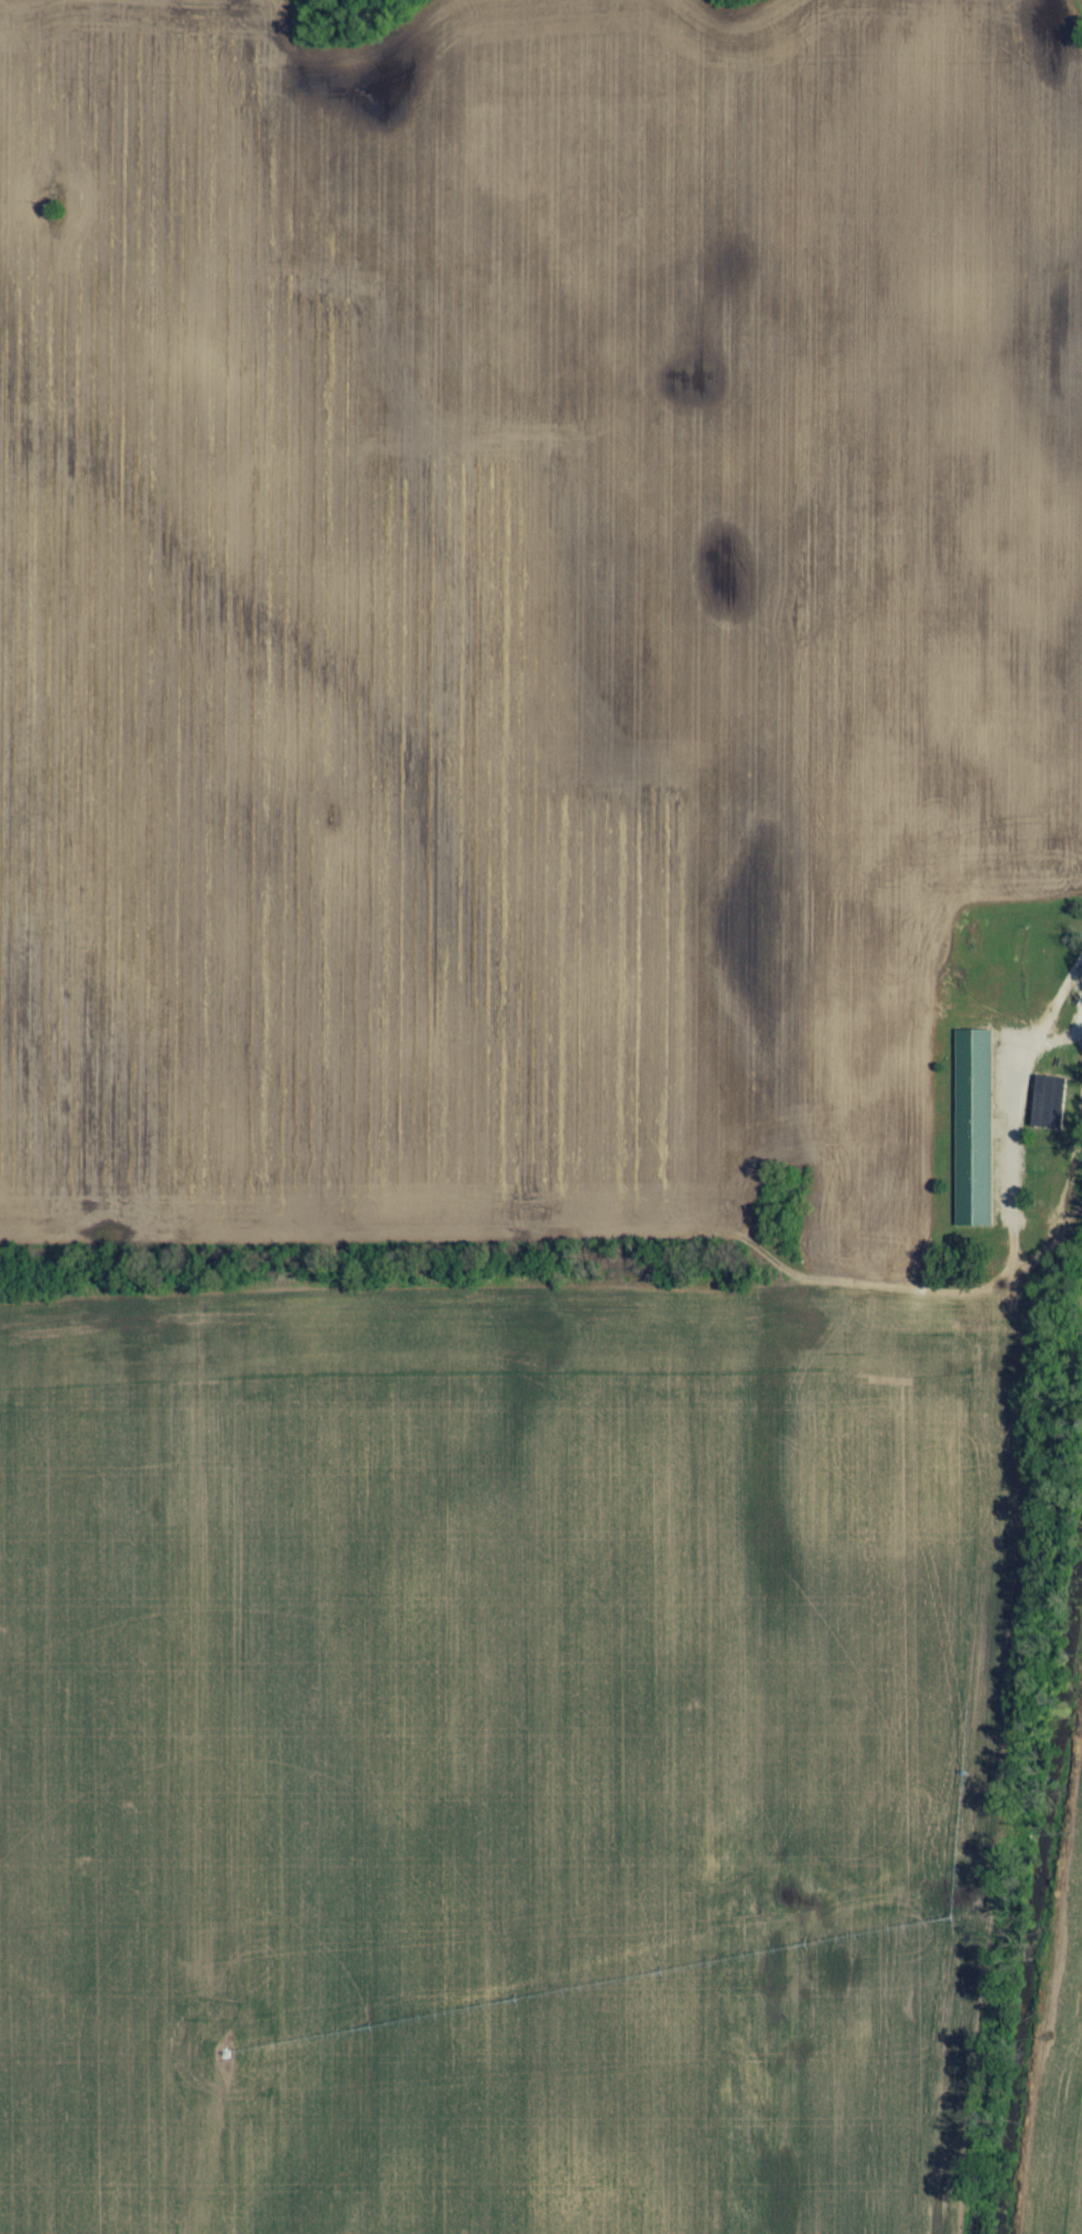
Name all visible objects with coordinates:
building: (975, 1136)
road: (1024, 1284)

